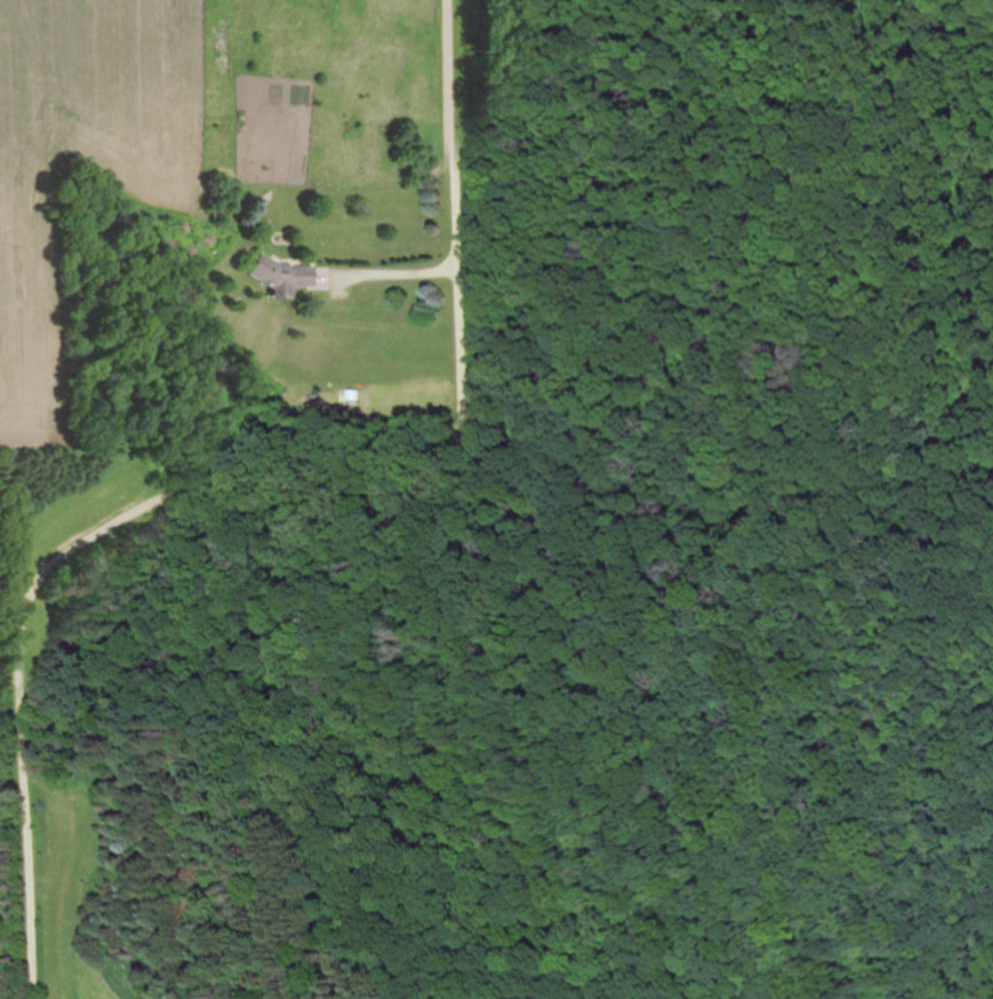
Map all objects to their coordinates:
road: (457, 213)
road: (390, 271)
building: (283, 275)
road: (58, 558)

